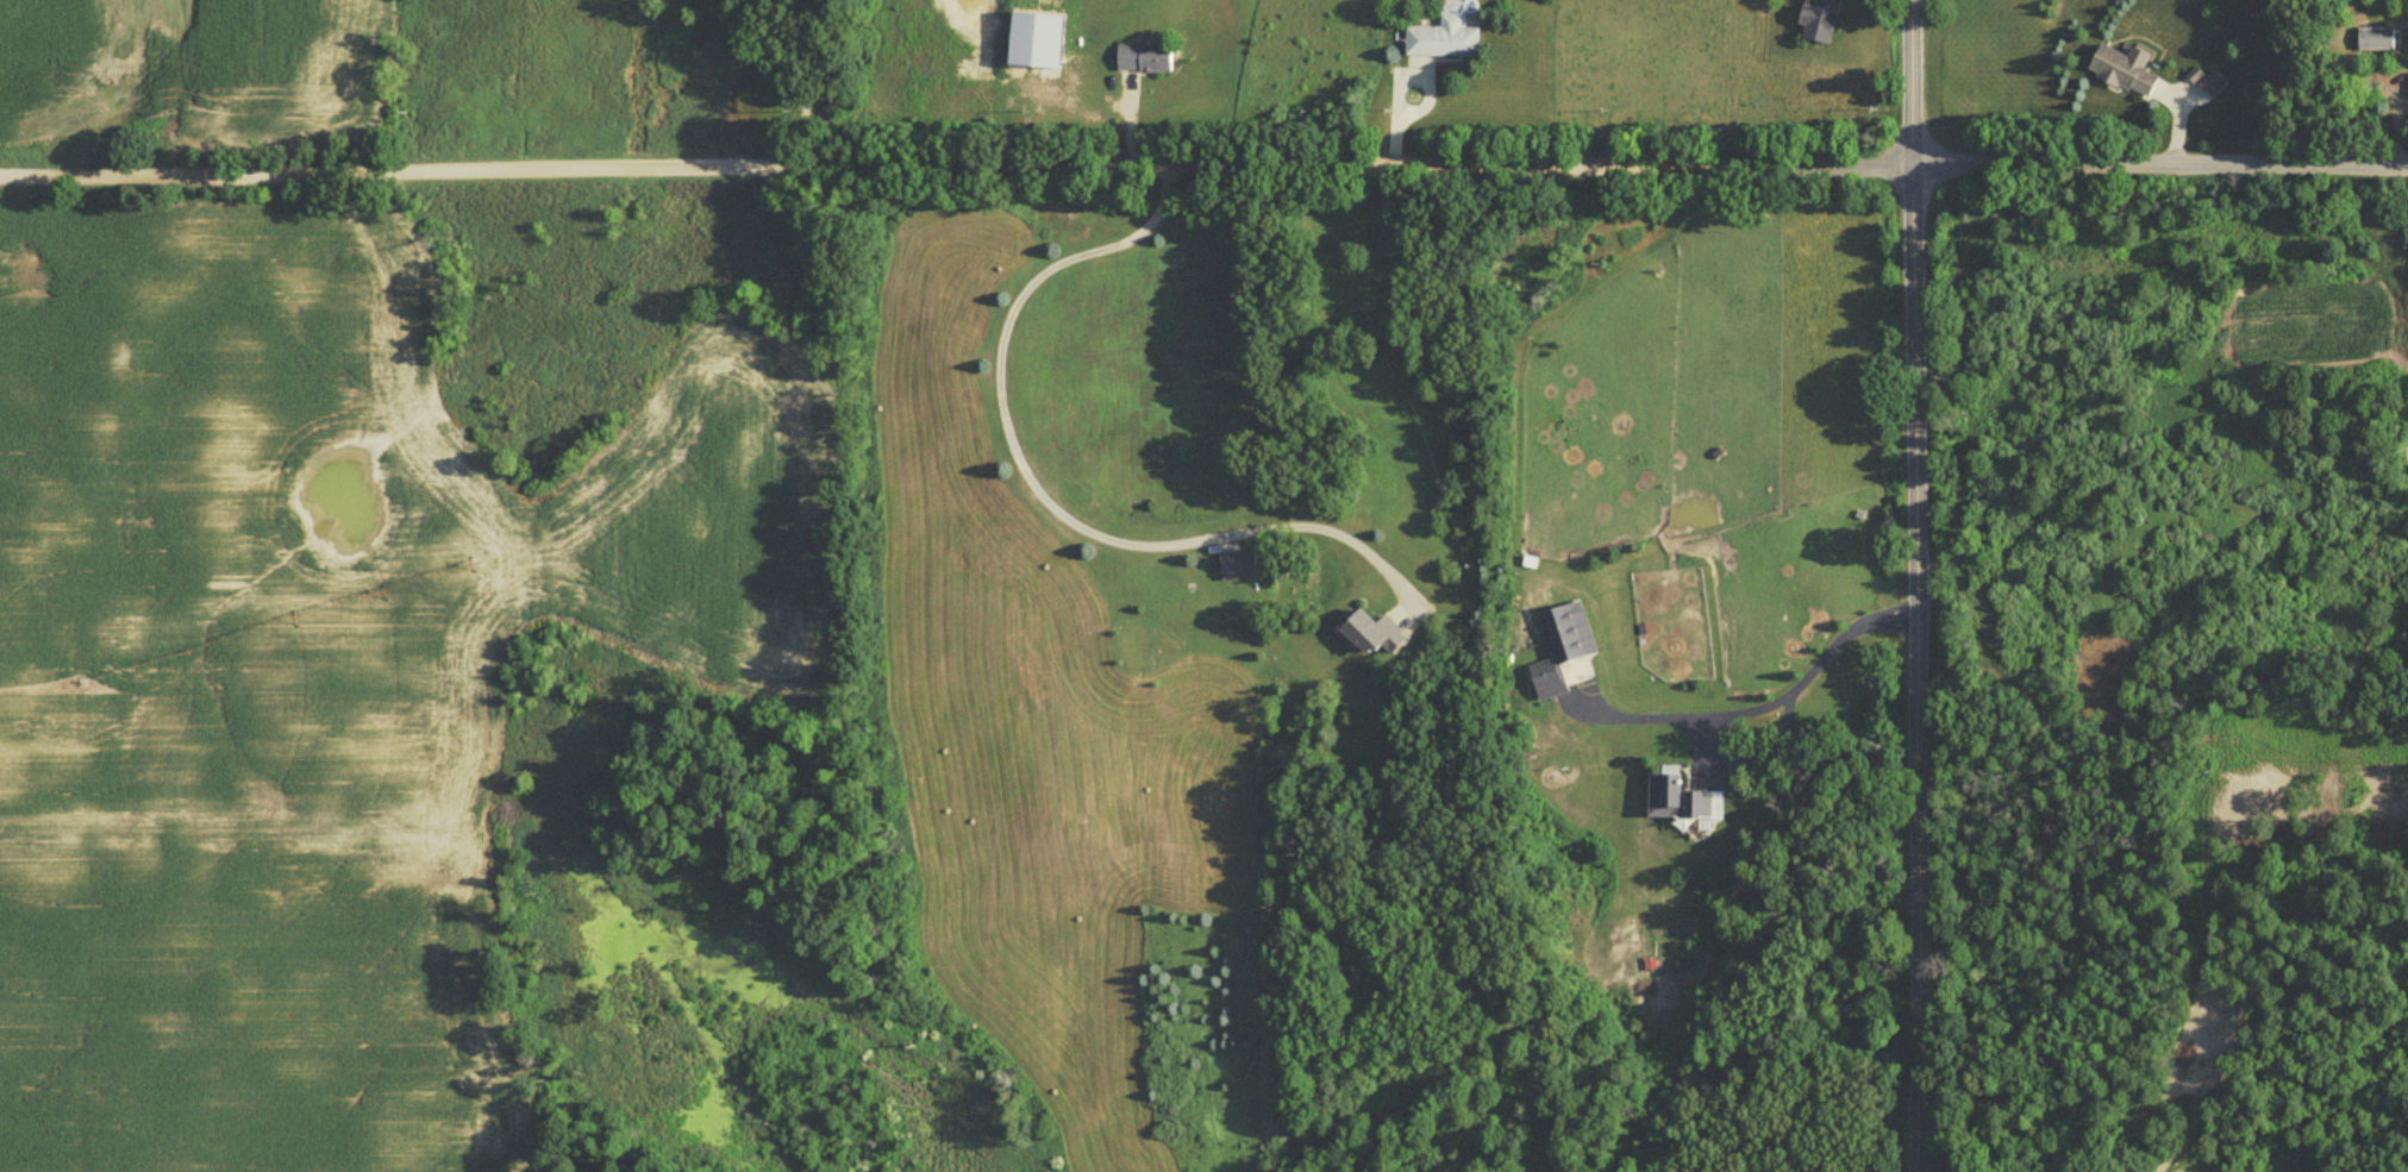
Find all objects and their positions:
building: (1816, 24)
building: (1440, 44)
building: (2373, 44)
building: (1140, 63)
building: (2120, 75)
road: (808, 86)
building: (2407, 90)
road: (1203, 170)
road: (1037, 490)
building: (1234, 570)
road: (1916, 585)
building: (1368, 637)
building: (1563, 637)
road: (1775, 696)
building: (1660, 797)
building: (1695, 808)

